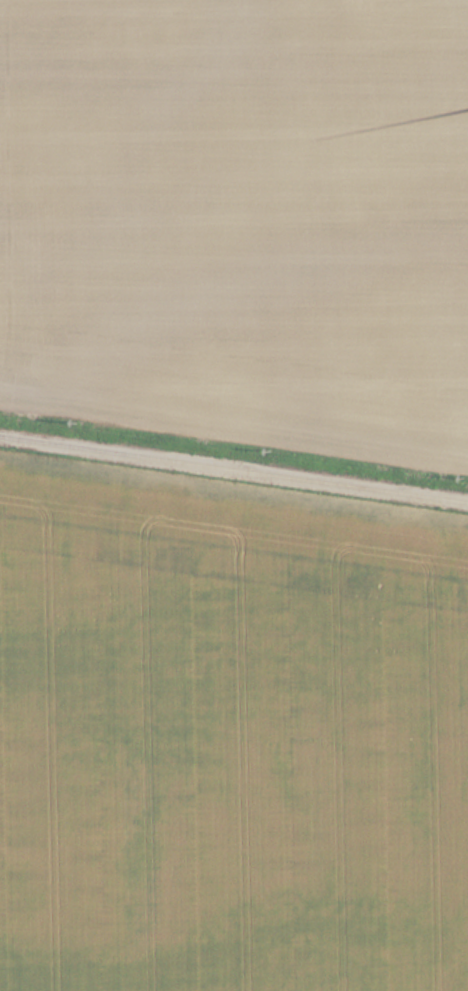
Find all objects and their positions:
railway: (234, 467)

